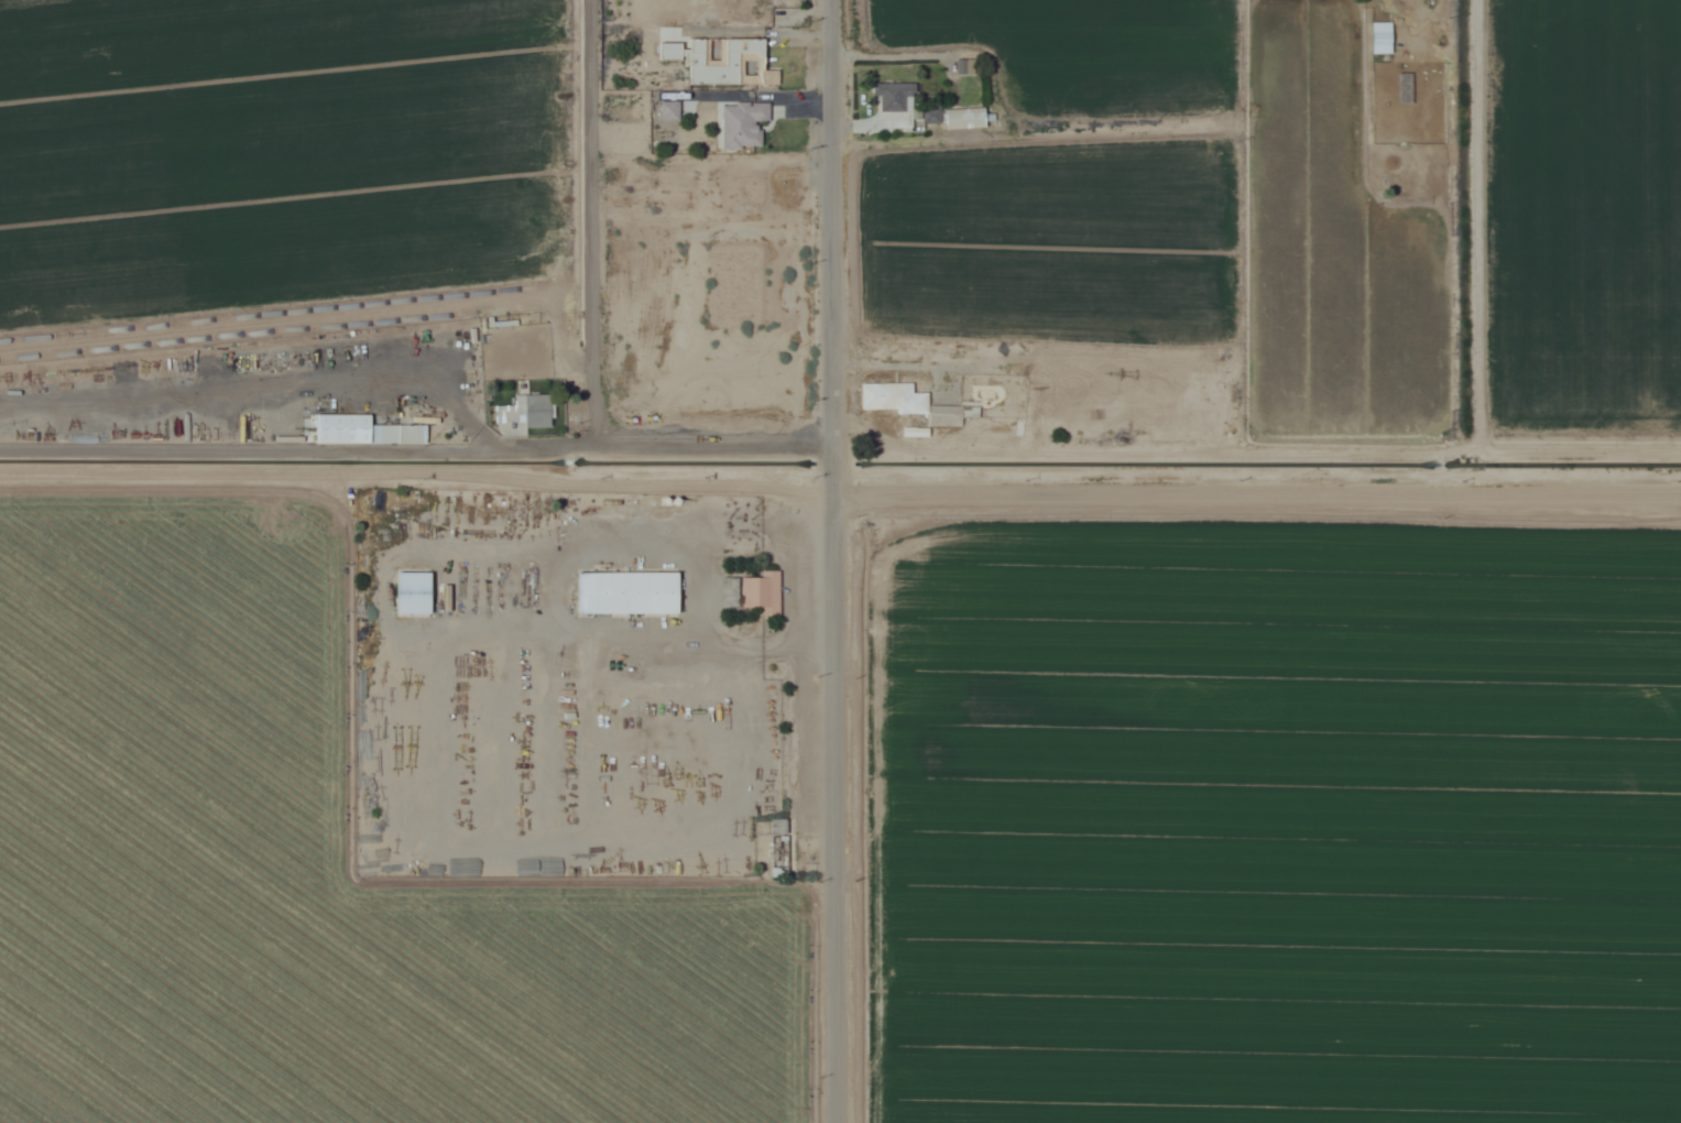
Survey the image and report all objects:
crop: (1078, 50)
building: (724, 62)
building: (1408, 88)
building: (896, 101)
building: (672, 110)
building: (967, 117)
building: (745, 123)
crop: (280, 153)
crop: (1583, 217)
crop: (1055, 241)
crop: (1336, 247)
building: (892, 397)
building: (526, 411)
building: (356, 429)
road: (1262, 480)
road: (842, 560)
building: (413, 592)
building: (629, 592)
building: (763, 592)
building: (446, 599)
crop: (1271, 824)
building: (779, 848)
crop: (314, 873)

